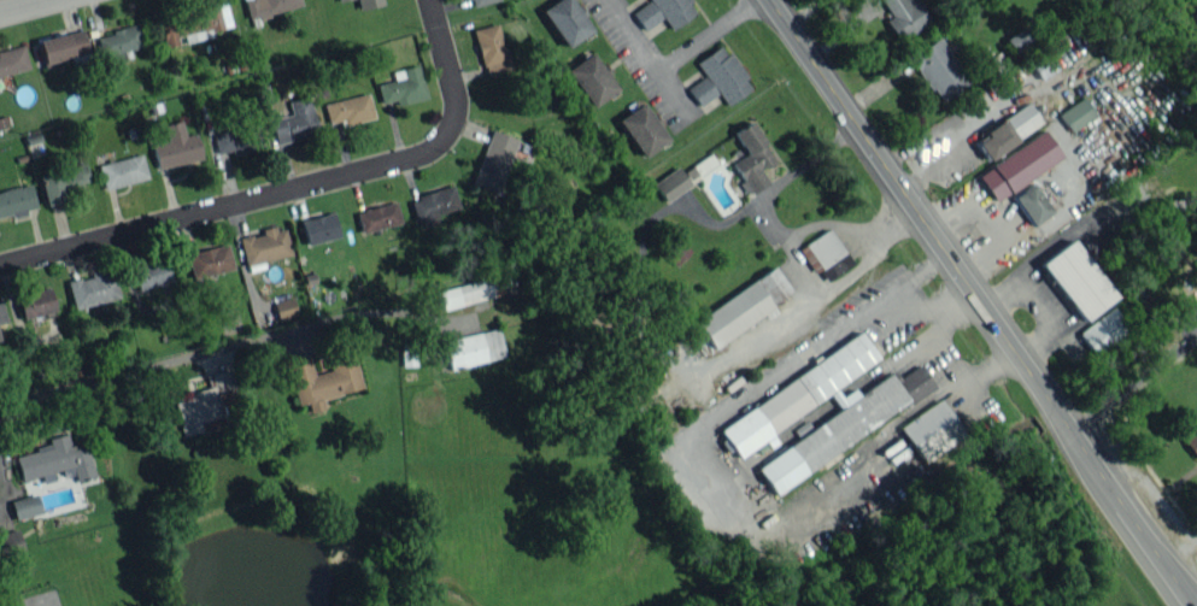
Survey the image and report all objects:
building: (339, 0)
building: (476, 1)
building: (366, 2)
building: (269, 6)
road: (30, 7)
building: (1196, 11)
building: (663, 12)
building: (904, 17)
building: (565, 20)
building: (193, 24)
road: (628, 34)
building: (1019, 37)
building: (117, 43)
building: (61, 47)
building: (491, 48)
road: (681, 48)
building: (12, 60)
building: (998, 63)
building: (1043, 65)
building: (939, 69)
building: (723, 73)
building: (589, 78)
building: (403, 86)
building: (700, 90)
building: (350, 108)
building: (1076, 113)
building: (294, 122)
building: (641, 129)
building: (1007, 130)
road: (958, 133)
road: (921, 139)
building: (237, 140)
building: (175, 146)
building: (750, 159)
building: (493, 160)
building: (1017, 165)
building: (699, 167)
building: (122, 171)
building: (63, 182)
building: (670, 183)
road: (294, 189)
building: (17, 200)
building: (1031, 204)
building: (433, 205)
road: (913, 206)
building: (377, 216)
road: (991, 220)
building: (318, 228)
building: (264, 245)
building: (673, 249)
building: (825, 254)
building: (209, 260)
road: (926, 266)
building: (151, 273)
building: (1076, 280)
building: (92, 288)
building: (464, 293)
building: (35, 302)
building: (284, 307)
building: (741, 307)
road: (872, 307)
road: (934, 310)
building: (1, 313)
building: (1103, 329)
road: (932, 331)
road: (224, 347)
building: (473, 347)
building: (322, 380)
building: (222, 381)
building: (915, 382)
road: (1134, 387)
building: (196, 410)
building: (759, 418)
building: (931, 430)
building: (1191, 441)
building: (54, 459)
building: (24, 506)
road: (1125, 508)
road: (763, 518)
building: (10, 545)

